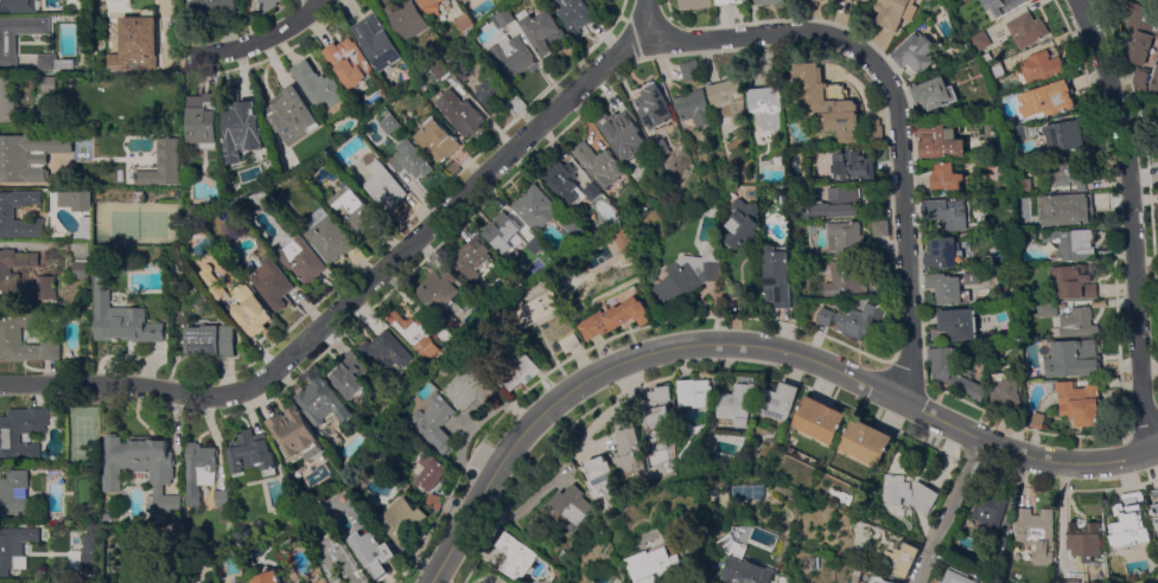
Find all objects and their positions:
building: (823, 0)
building: (866, 0)
building: (600, 1)
building: (731, 1)
building: (770, 1)
building: (145, 2)
building: (268, 4)
building: (694, 4)
building: (19, 5)
building: (1003, 5)
building: (211, 6)
building: (432, 6)
building: (896, 12)
building: (575, 15)
building: (406, 17)
building: (507, 18)
road: (647, 20)
building: (466, 21)
building: (542, 30)
building: (1026, 30)
building: (1139, 30)
road: (263, 38)
building: (980, 40)
building: (378, 41)
building: (84, 43)
building: (134, 43)
building: (7, 50)
building: (915, 52)
building: (513, 56)
building: (53, 63)
building: (349, 63)
building: (1038, 68)
building: (441, 69)
building: (691, 70)
building: (995, 70)
building: (463, 71)
building: (1140, 78)
building: (1154, 79)
building: (50, 84)
building: (318, 85)
building: (491, 88)
building: (933, 94)
building: (731, 96)
building: (1046, 100)
building: (831, 102)
building: (7, 104)
building: (653, 107)
building: (694, 107)
building: (770, 107)
road: (899, 111)
building: (460, 113)
building: (292, 114)
building: (204, 123)
building: (390, 123)
building: (242, 129)
building: (874, 132)
building: (622, 134)
building: (1063, 135)
building: (438, 140)
building: (939, 142)
building: (660, 148)
building: (27, 155)
building: (411, 159)
building: (163, 164)
building: (597, 164)
building: (851, 165)
building: (1062, 171)
building: (944, 177)
building: (566, 184)
building: (384, 187)
building: (138, 196)
building: (74, 200)
building: (838, 204)
building: (879, 206)
building: (533, 207)
building: (355, 210)
building: (1065, 210)
building: (6, 212)
building: (946, 213)
building: (745, 222)
road: (1130, 222)
building: (880, 229)
building: (502, 233)
building: (573, 233)
building: (847, 238)
building: (330, 239)
building: (623, 239)
building: (1070, 244)
building: (534, 245)
building: (941, 254)
building: (472, 257)
building: (303, 260)
building: (81, 269)
building: (688, 277)
building: (781, 277)
building: (9, 278)
building: (846, 280)
building: (1075, 282)
building: (271, 283)
building: (737, 288)
building: (944, 288)
building: (45, 290)
building: (440, 293)
building: (240, 302)
road: (360, 307)
building: (535, 309)
building: (1046, 309)
building: (826, 316)
building: (122, 318)
building: (616, 318)
building: (860, 319)
building: (1077, 322)
building: (959, 323)
building: (11, 333)
building: (413, 334)
building: (446, 338)
building: (211, 340)
building: (570, 342)
road: (750, 347)
building: (386, 351)
building: (1073, 358)
building: (952, 371)
building: (520, 372)
building: (350, 374)
building: (469, 390)
building: (1005, 393)
building: (693, 395)
building: (323, 402)
building: (778, 402)
building: (1079, 402)
building: (738, 404)
building: (660, 418)
building: (821, 419)
building: (1037, 421)
building: (432, 422)
building: (294, 434)
building: (9, 438)
building: (867, 442)
building: (632, 450)
building: (250, 457)
building: (142, 467)
building: (199, 470)
building: (428, 472)
building: (604, 482)
park: (751, 491)
building: (15, 493)
building: (909, 493)
building: (222, 498)
building: (433, 501)
building: (1154, 504)
building: (572, 506)
building: (987, 510)
road: (948, 511)
building: (343, 513)
building: (401, 521)
building: (1130, 523)
building: (1035, 533)
building: (1083, 539)
building: (14, 547)
building: (88, 550)
building: (373, 552)
building: (566, 555)
building: (515, 556)
building: (74, 558)
building: (901, 559)
building: (339, 560)
building: (667, 565)
building: (756, 571)
building: (42, 574)
building: (268, 577)
building: (955, 578)
building: (882, 579)
building: (7, 582)
building: (17, 582)
building: (64, 582)
building: (304, 582)
building: (1010, 582)
building: (1062, 582)

